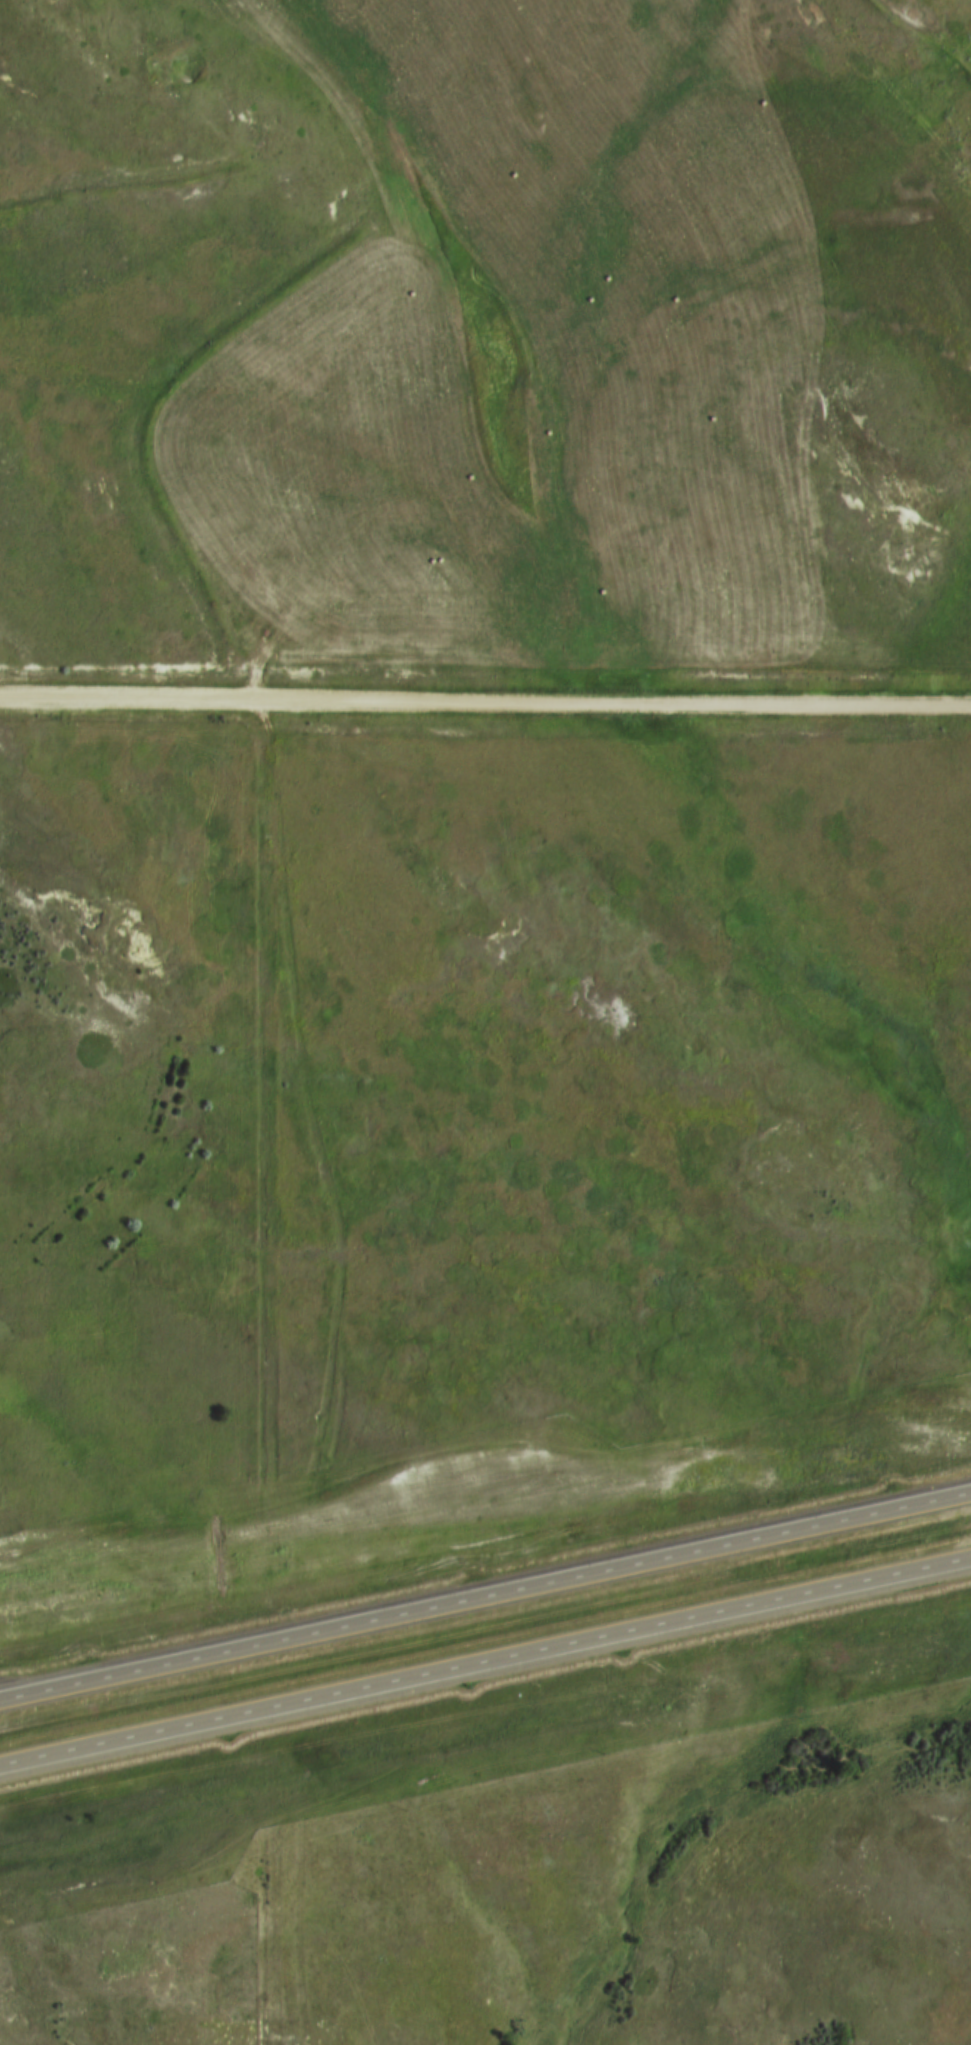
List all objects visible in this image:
road: (485, 708)
road: (485, 1604)
road: (485, 1666)

